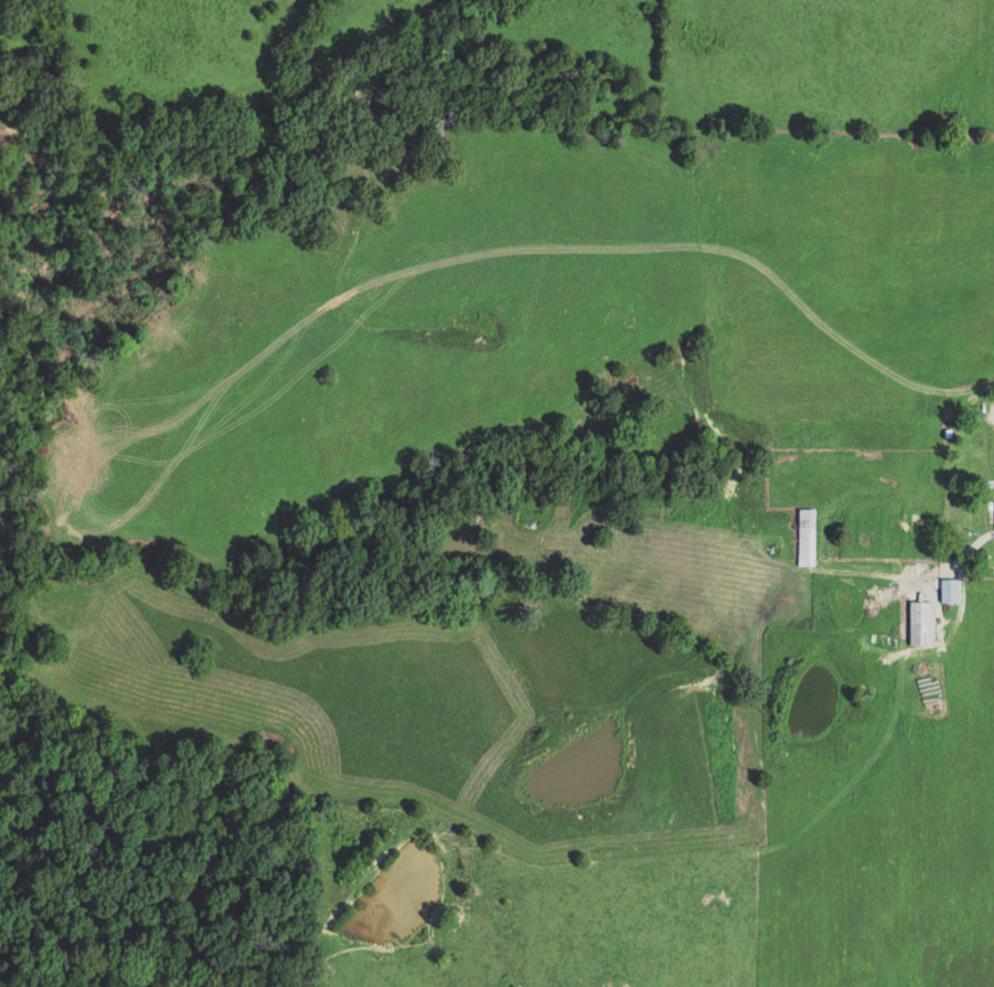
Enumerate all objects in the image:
building: (806, 536)
building: (949, 589)
building: (920, 622)

